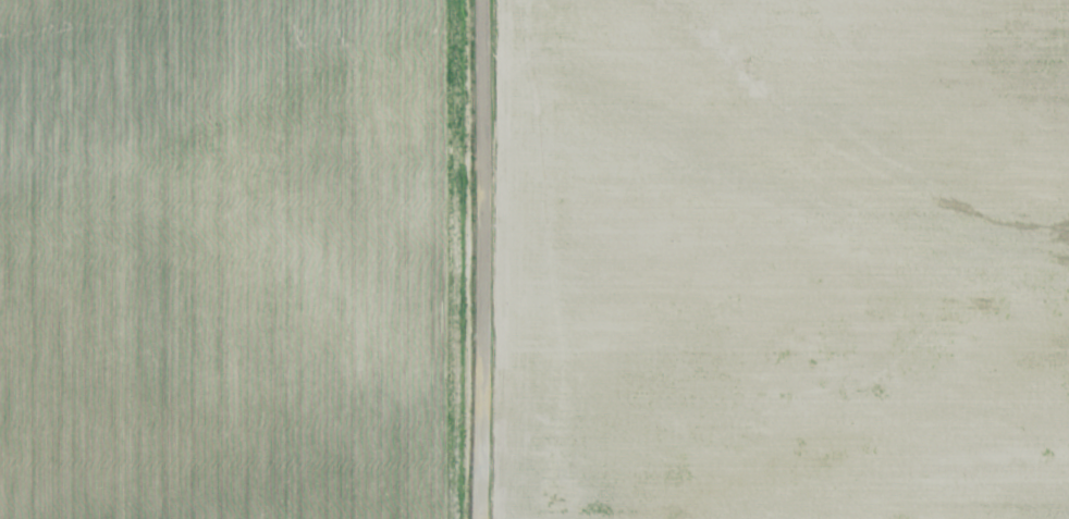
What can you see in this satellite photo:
road: (476, 259)

